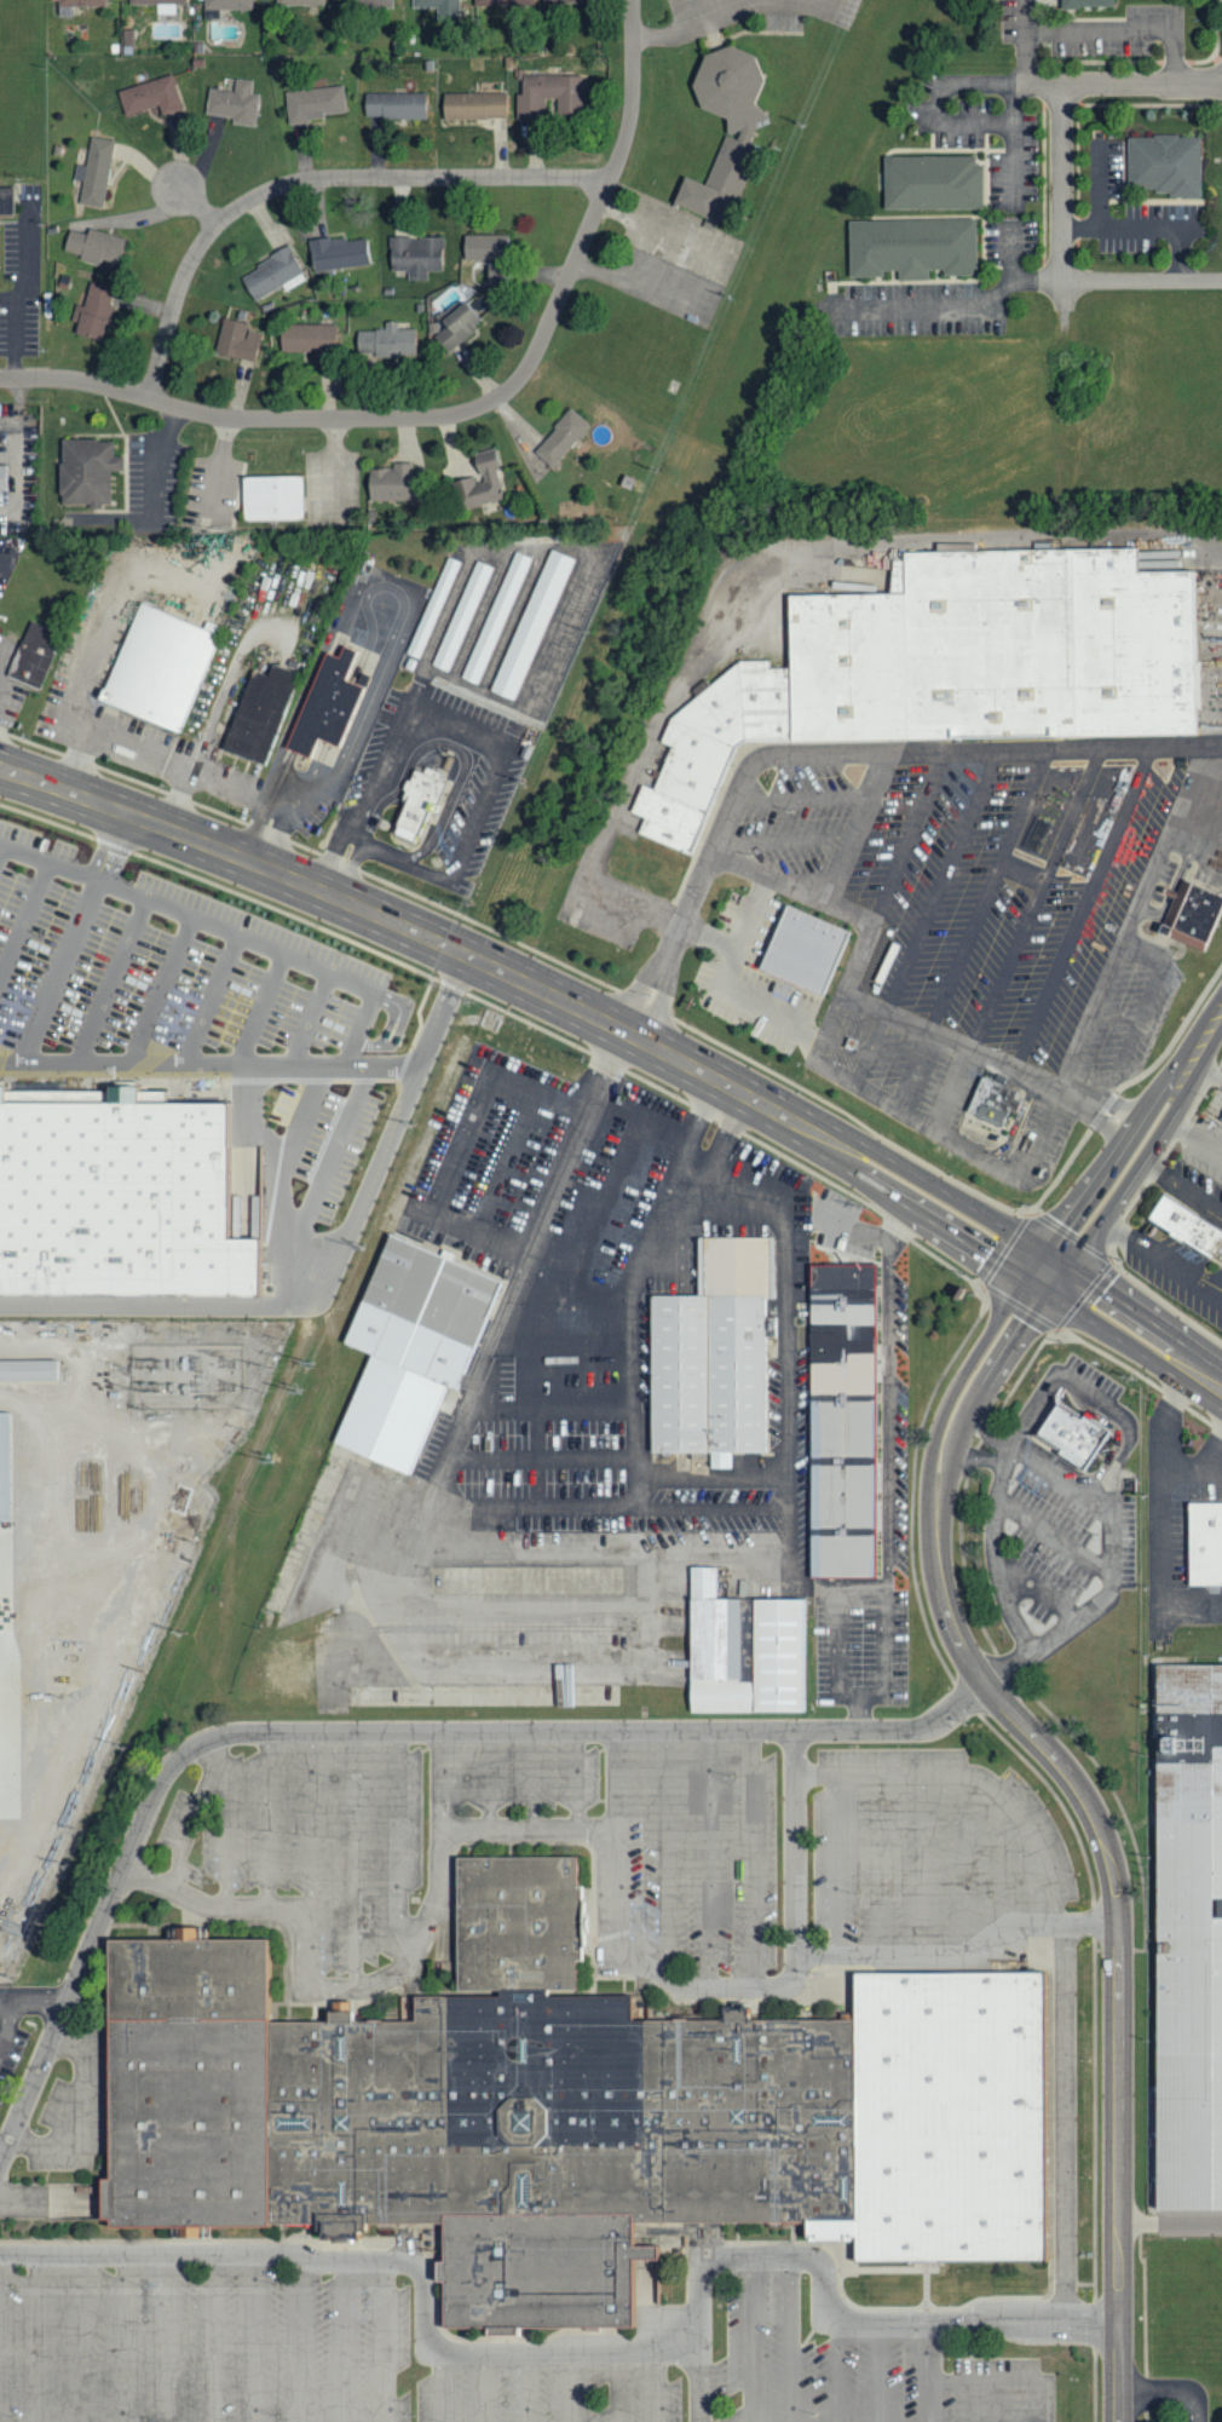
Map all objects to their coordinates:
building: (563, 1)
building: (1093, 1)
building: (80, 2)
building: (296, 2)
building: (502, 2)
road: (824, 2)
building: (225, 4)
building: (368, 4)
building: (158, 5)
building: (440, 8)
road: (681, 12)
road: (693, 19)
road: (1120, 27)
road: (1215, 38)
road: (1022, 41)
road: (1122, 82)
road: (630, 93)
building: (546, 94)
building: (148, 96)
building: (232, 103)
building: (312, 104)
building: (393, 105)
building: (472, 105)
road: (939, 116)
building: (734, 137)
road: (1015, 157)
building: (1166, 161)
building: (93, 172)
road: (312, 178)
building: (936, 180)
road: (1064, 195)
building: (10, 200)
road: (196, 205)
road: (1152, 225)
road: (652, 228)
building: (92, 246)
building: (483, 247)
building: (917, 247)
road: (30, 252)
building: (338, 253)
building: (414, 255)
building: (272, 275)
road: (1143, 280)
road: (961, 303)
building: (91, 312)
building: (454, 327)
road: (12, 329)
building: (305, 338)
building: (236, 341)
building: (385, 341)
road: (18, 408)
road: (368, 416)
building: (558, 438)
road: (156, 464)
road: (220, 468)
building: (88, 471)
building: (6, 477)
building: (479, 481)
building: (388, 483)
building: (273, 496)
road: (811, 551)
road: (578, 598)
building: (438, 605)
building: (465, 614)
road: (479, 616)
building: (495, 619)
road: (512, 621)
building: (530, 625)
road: (109, 626)
building: (1004, 648)
building: (40, 655)
building: (166, 665)
road: (375, 689)
road: (224, 692)
building: (329, 704)
building: (263, 713)
road: (384, 717)
building: (717, 743)
road: (836, 748)
road: (463, 756)
road: (214, 779)
road: (377, 779)
building: (425, 794)
road: (806, 796)
road: (477, 815)
road: (857, 823)
road: (905, 834)
road: (351, 836)
road: (786, 839)
road: (1204, 844)
road: (119, 850)
road: (4, 858)
road: (943, 876)
road: (1041, 882)
road: (990, 885)
road: (630, 901)
road: (1080, 904)
parking lot: (612, 909)
road: (1130, 914)
building: (1191, 915)
parking lot: (992, 925)
road: (27, 927)
road: (234, 937)
road: (710, 937)
building: (809, 947)
road: (525, 948)
road: (1008, 965)
parking lot: (754, 972)
road: (63, 976)
road: (724, 982)
road: (115, 985)
road: (163, 995)
road: (214, 1005)
road: (888, 1008)
parking lot: (201, 1009)
road: (1137, 1011)
road: (264, 1014)
road: (313, 1024)
road: (362, 1034)
road: (633, 1037)
road: (872, 1045)
road: (845, 1047)
road: (1207, 1066)
road: (916, 1068)
road: (272, 1070)
road: (840, 1071)
road: (634, 1075)
road: (950, 1085)
building: (992, 1103)
road: (1094, 1120)
building: (1221, 1122)
road: (1189, 1131)
road: (1044, 1133)
road: (1135, 1145)
road: (1002, 1149)
road: (1176, 1181)
road: (686, 1190)
building: (119, 1193)
road: (299, 1220)
building: (1191, 1225)
road: (875, 1237)
road: (1157, 1254)
building: (1221, 1254)
traffic signals: (1050, 1278)
road: (288, 1306)
road: (632, 1342)
building: (419, 1344)
building: (719, 1348)
building: (30, 1368)
power substation: (185, 1374)
road: (786, 1398)
road: (888, 1413)
building: (849, 1420)
road: (457, 1426)
building: (1076, 1431)
road: (1160, 1452)
road: (1117, 1463)
building: (7, 1466)
road: (938, 1473)
road: (1060, 1477)
road: (1051, 1538)
building: (1207, 1542)
road: (993, 1554)
road: (1160, 1569)
road: (1037, 1590)
building: (749, 1649)
road: (837, 1650)
road: (886, 1663)
road: (524, 1727)
road: (974, 1774)
road: (443, 1778)
road: (532, 1778)
road: (488, 1779)
road: (577, 1779)
building: (8, 1780)
road: (617, 1780)
road: (196, 1811)
road: (266, 1818)
road: (312, 1818)
road: (226, 1830)
road: (599, 1830)
parking lot: (636, 1839)
road: (398, 1840)
road: (794, 1840)
road: (664, 1851)
road: (754, 1856)
road: (709, 1857)
road: (355, 1858)
road: (970, 1858)
road: (836, 1863)
road: (880, 1863)
road: (922, 1863)
road: (1018, 1872)
building: (1192, 1937)
road: (6, 2000)
road: (24, 2000)
road: (60, 2017)
road: (1117, 2033)
parking lot: (10, 2055)
building: (573, 2109)
road: (1065, 2123)
road: (38, 2337)
road: (80, 2337)
road: (122, 2337)
road: (167, 2337)
road: (212, 2337)
road: (254, 2337)
road: (299, 2338)
road: (342, 2340)
road: (386, 2341)
road: (749, 2341)
road: (791, 2341)
parking lot: (212, 2347)
road: (590, 2349)
road: (837, 2372)
road: (881, 2372)
road: (928, 2372)
road: (1001, 2382)
road: (439, 2386)
road: (484, 2386)
road: (528, 2386)
road: (572, 2386)
road: (617, 2386)
road: (658, 2386)
road: (699, 2386)
road: (1170, 2392)
road: (982, 2401)
parking lot: (1191, 2420)

